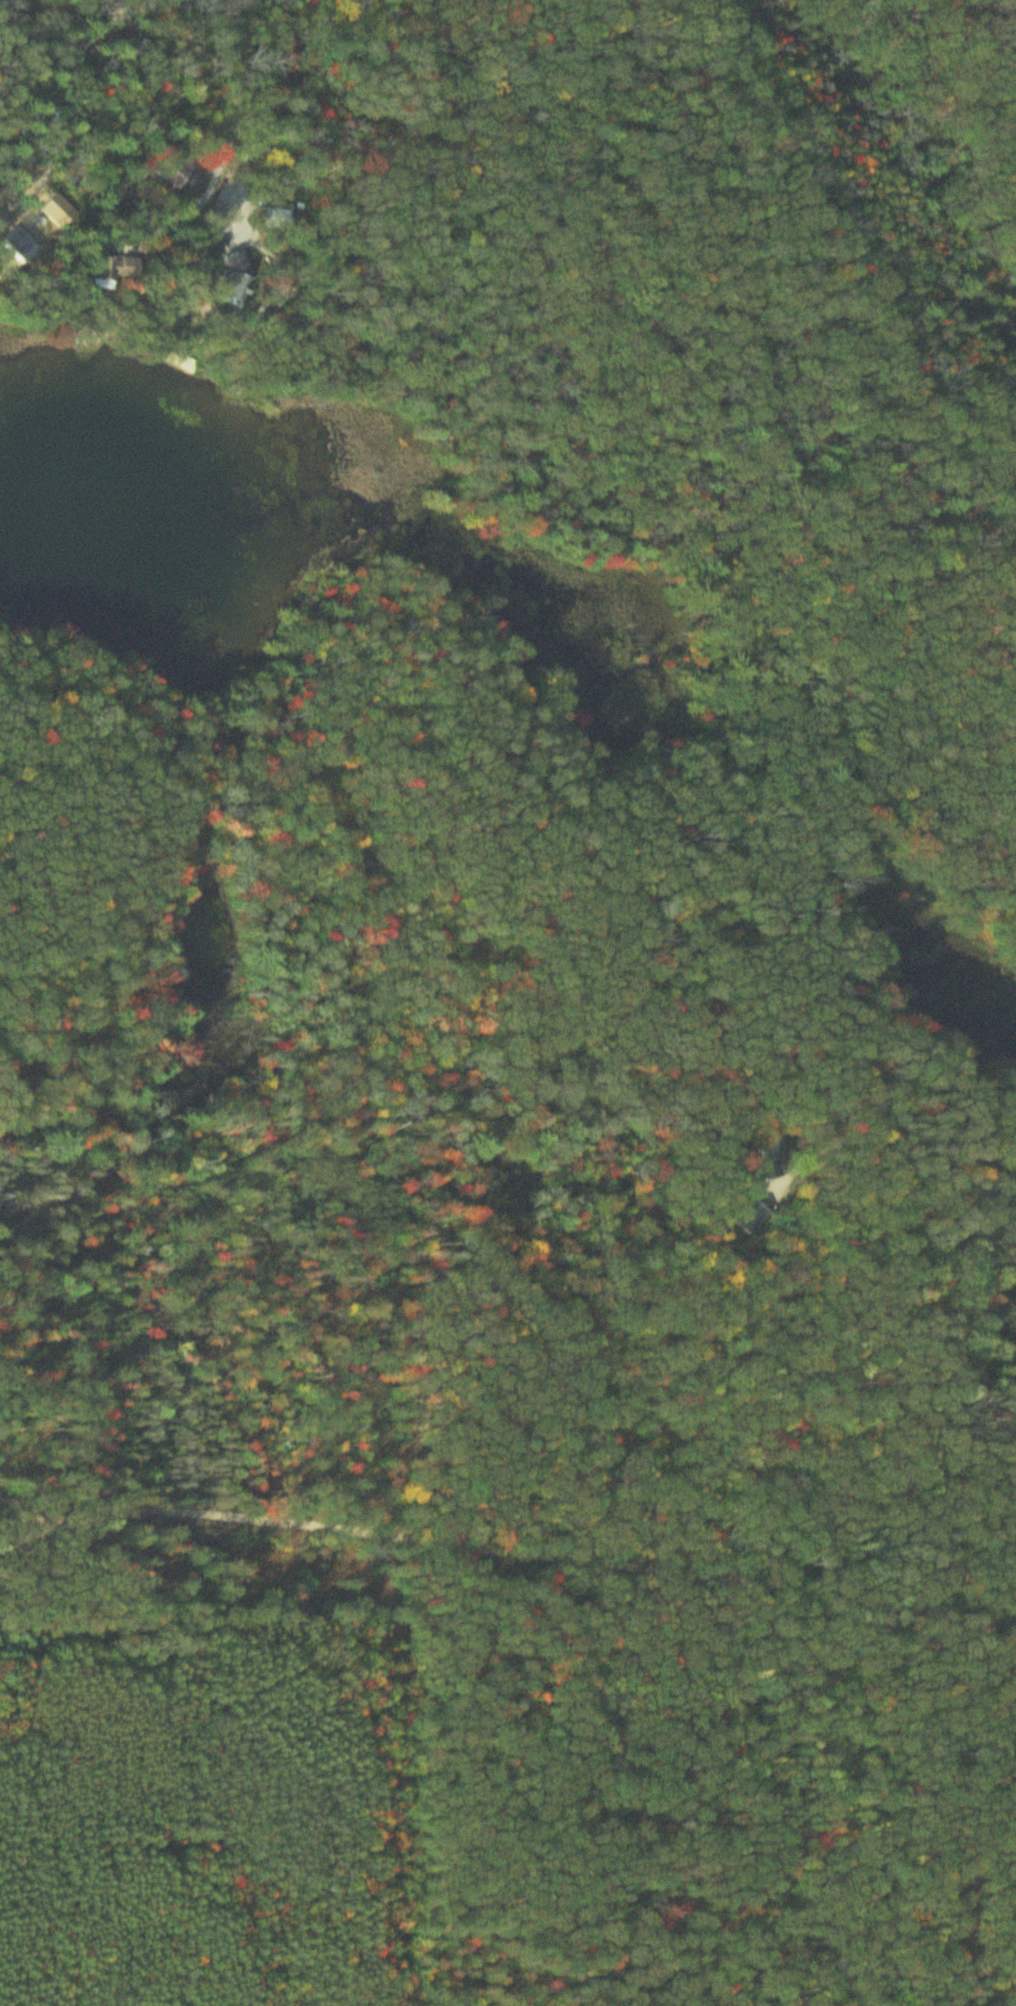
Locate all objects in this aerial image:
road: (118, 123)
road: (55, 160)
building: (174, 169)
building: (277, 219)
building: (114, 273)
building: (237, 279)
road: (981, 1172)
building: (1015, 1182)
road: (507, 1548)

